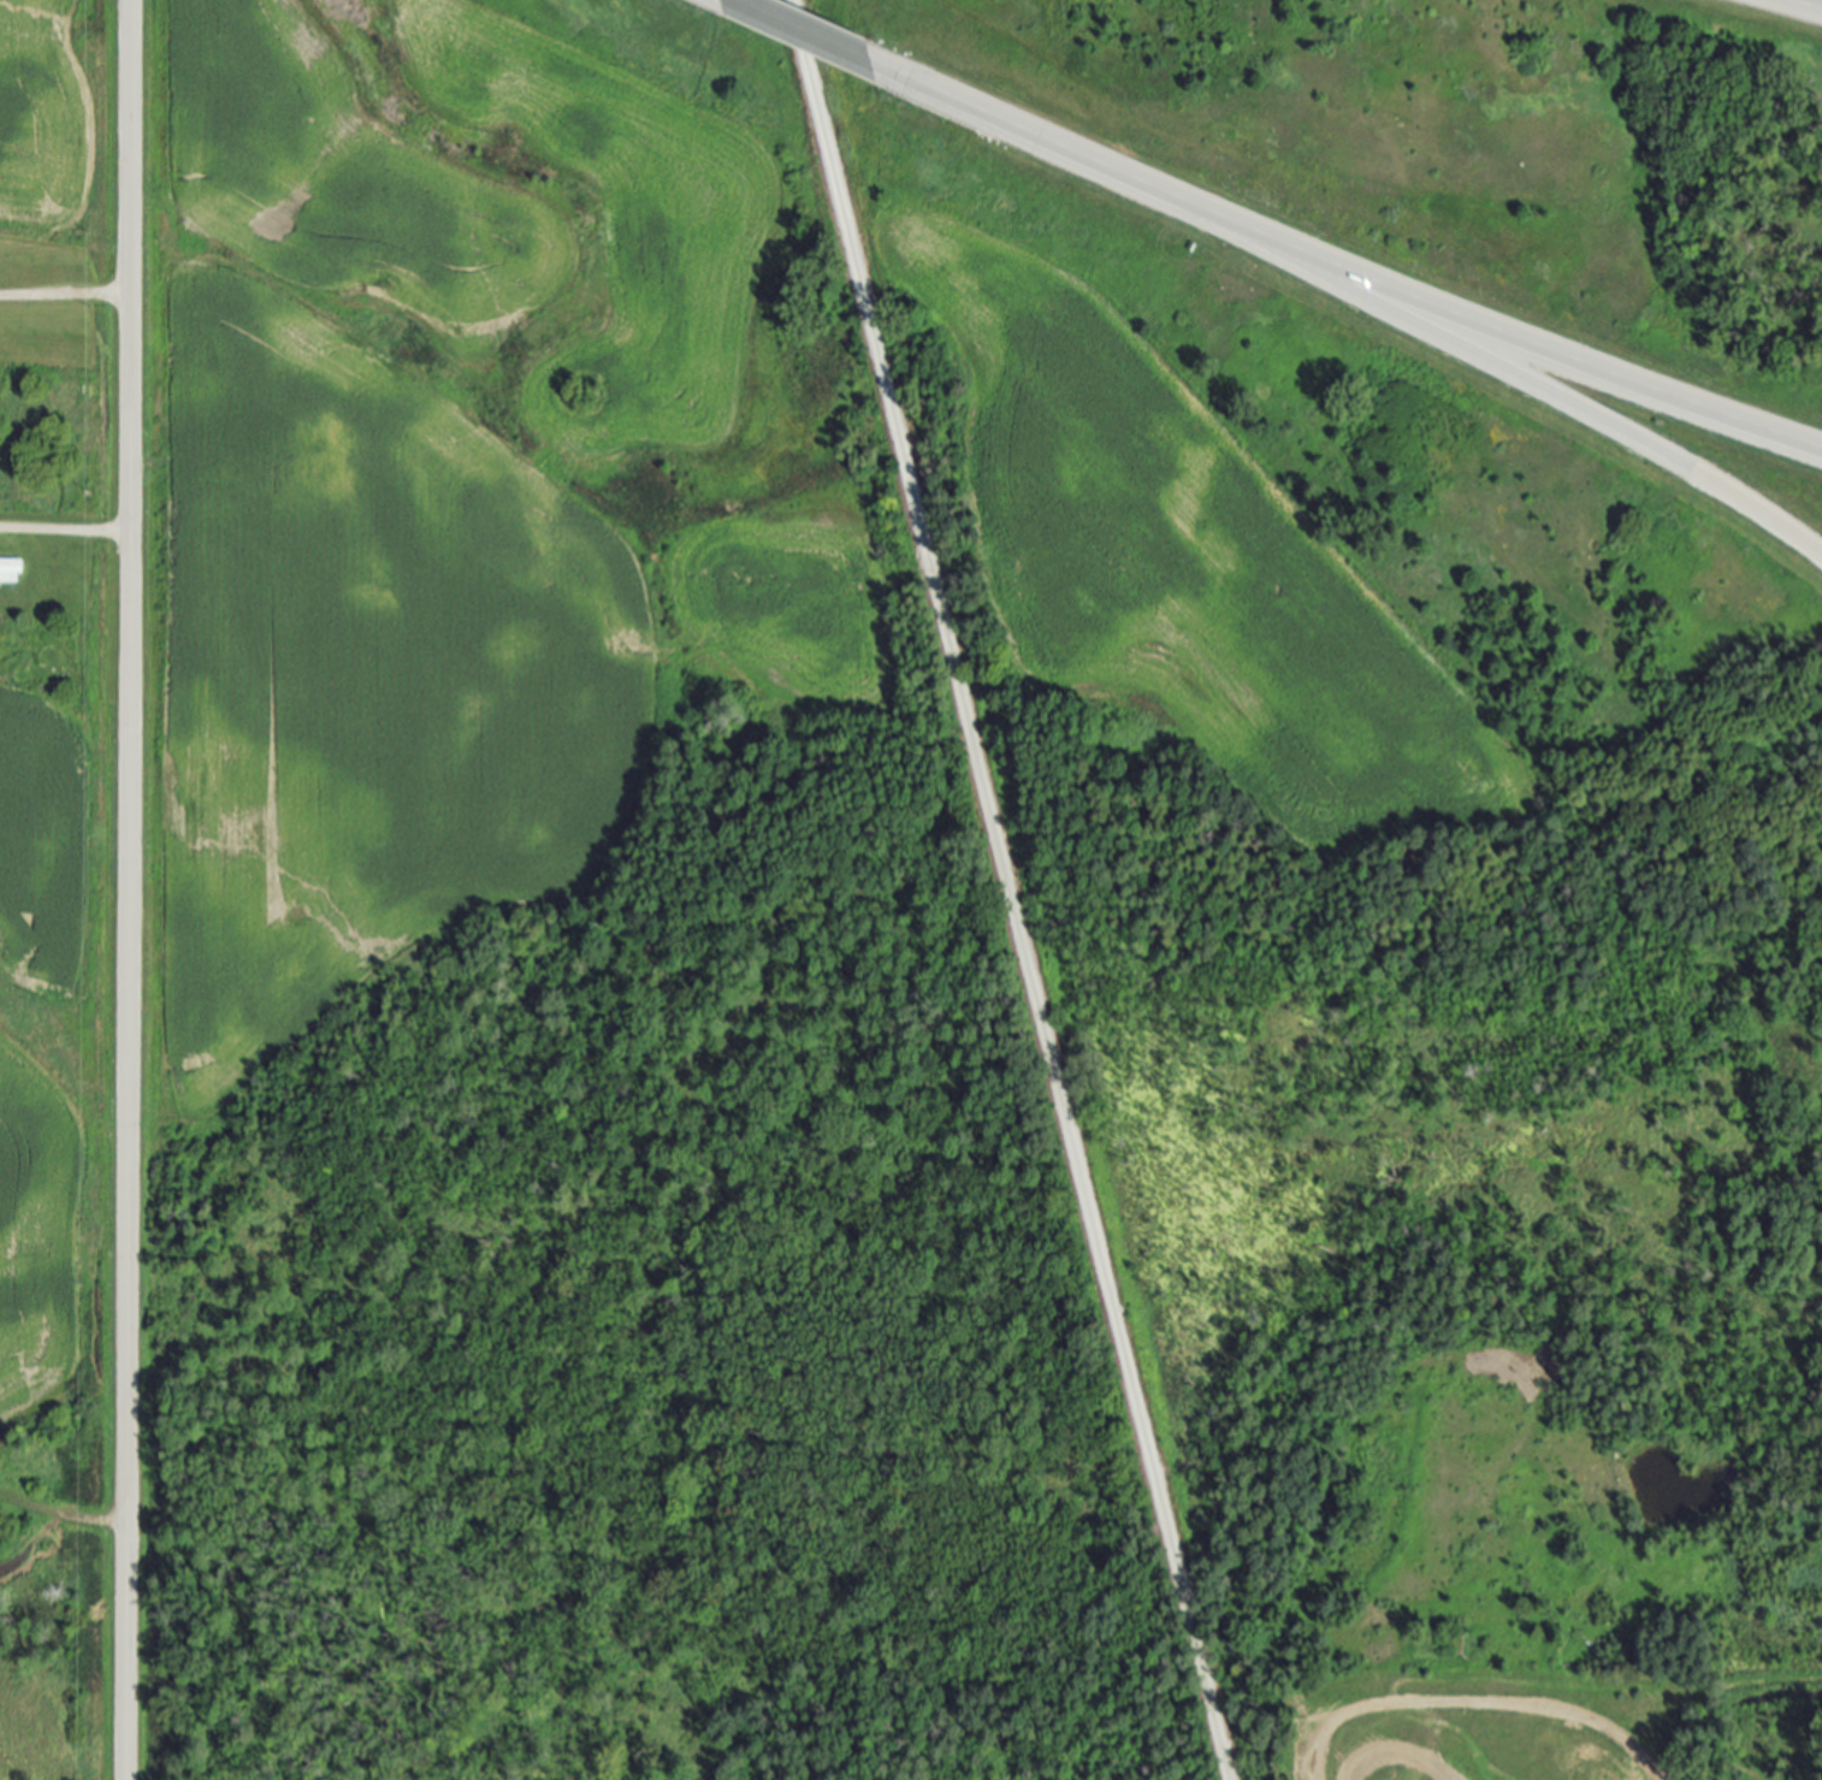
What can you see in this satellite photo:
road: (1810, 2)
road: (818, 37)
road: (1356, 271)
road: (65, 295)
road: (1564, 392)
road: (64, 528)
building: (12, 569)
road: (126, 889)
road: (1013, 889)

